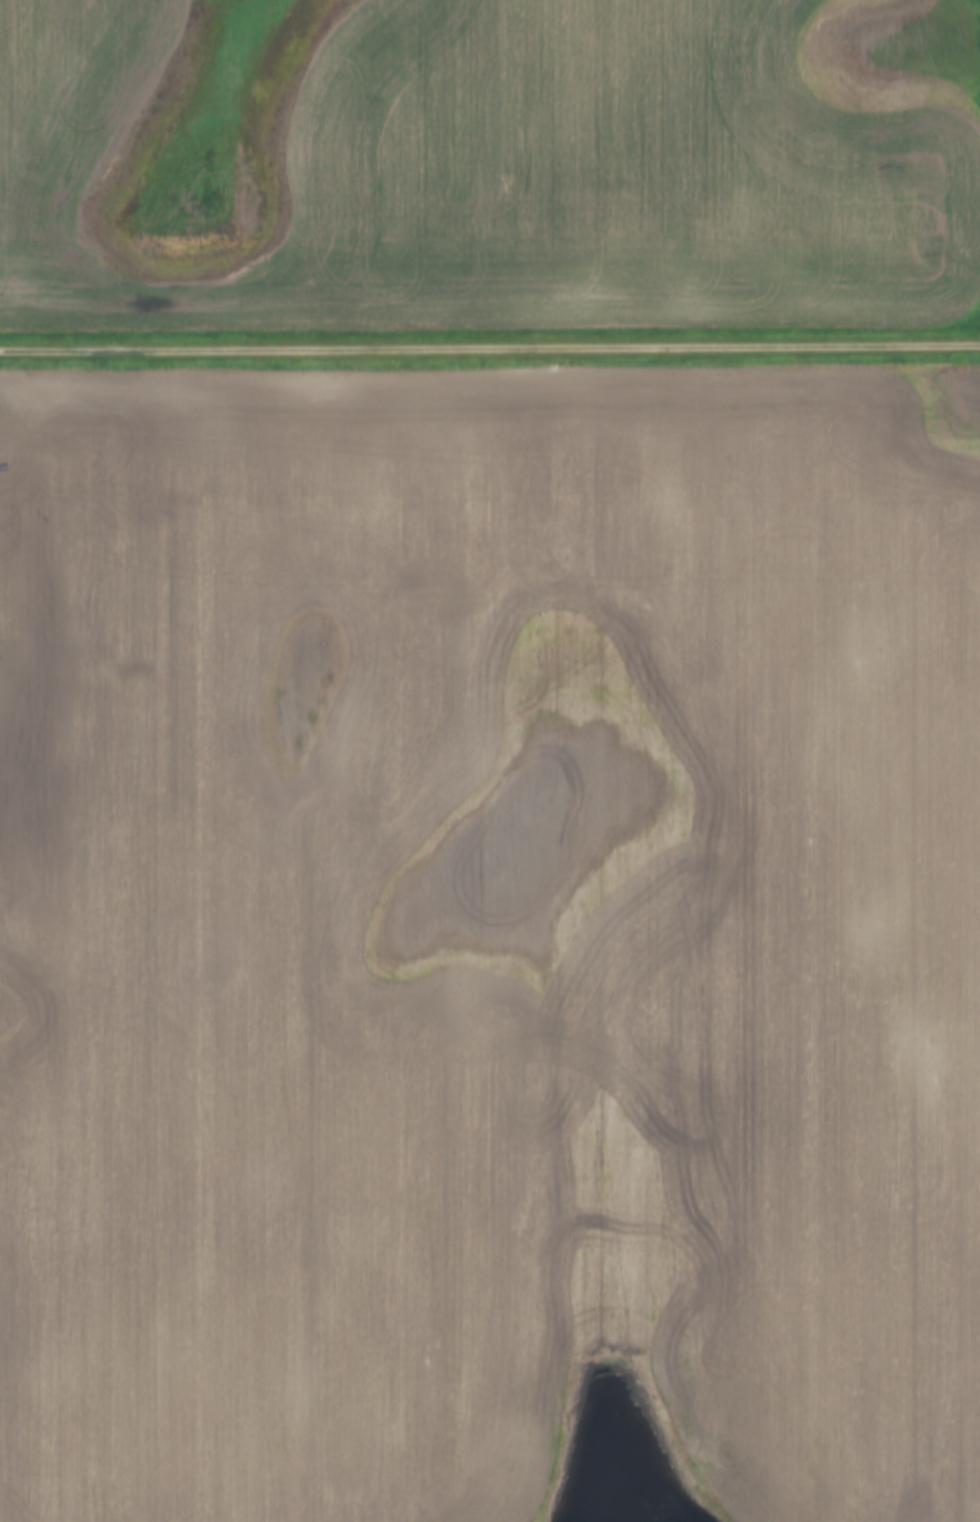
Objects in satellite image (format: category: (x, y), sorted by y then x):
road: (490, 352)

